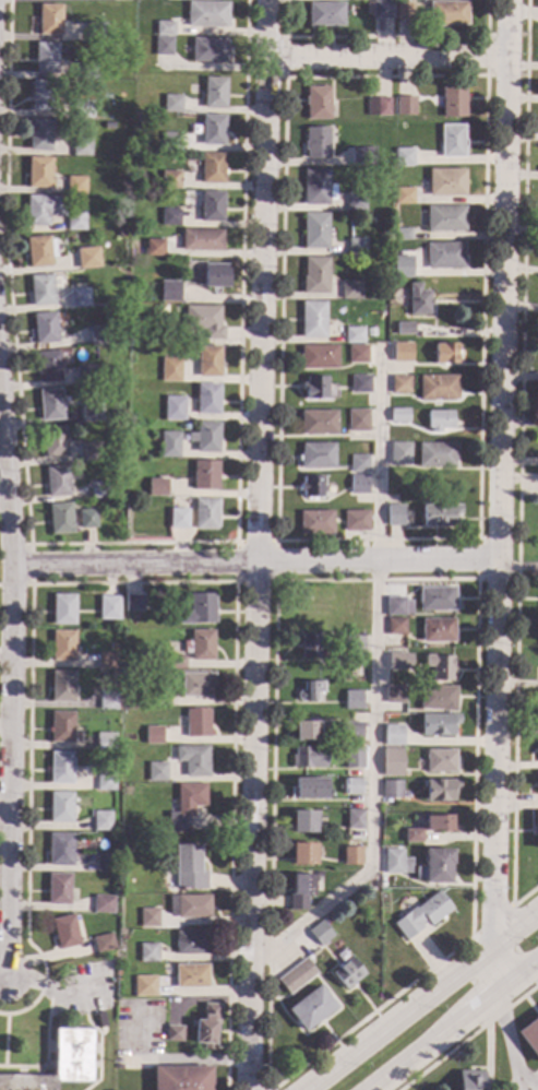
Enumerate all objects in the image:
building: (109, 0)
building: (368, 8)
building: (382, 10)
building: (404, 12)
building: (206, 14)
building: (324, 14)
building: (447, 14)
building: (49, 20)
building: (164, 28)
building: (95, 32)
building: (163, 47)
building: (208, 50)
road: (387, 57)
building: (46, 58)
building: (85, 71)
building: (214, 93)
building: (41, 96)
building: (453, 102)
building: (318, 103)
building: (172, 104)
building: (405, 106)
building: (378, 107)
building: (83, 109)
building: (108, 126)
building: (212, 130)
building: (39, 135)
building: (452, 140)
building: (171, 142)
building: (316, 143)
building: (81, 145)
building: (404, 157)
building: (359, 158)
building: (212, 168)
building: (38, 173)
building: (145, 177)
building: (170, 180)
building: (445, 183)
building: (75, 186)
building: (316, 188)
building: (404, 196)
building: (355, 202)
building: (211, 206)
building: (44, 210)
building: (124, 215)
building: (169, 217)
building: (445, 218)
building: (76, 221)
building: (315, 230)
building: (121, 235)
building: (400, 235)
building: (201, 239)
building: (356, 246)
building: (154, 248)
building: (40, 251)
building: (444, 256)
building: (88, 258)
building: (400, 271)
building: (315, 275)
building: (215, 276)
building: (43, 289)
building: (169, 291)
building: (350, 291)
building: (80, 298)
building: (418, 300)
building: (159, 308)
building: (100, 316)
building: (312, 320)
building: (204, 321)
building: (46, 329)
building: (404, 329)
building: (370, 332)
building: (98, 335)
building: (354, 335)
building: (402, 352)
building: (357, 354)
building: (445, 354)
building: (319, 357)
building: (208, 362)
building: (48, 367)
building: (170, 370)
building: (86, 375)
building: (360, 384)
building: (399, 384)
building: (314, 388)
building: (438, 388)
building: (207, 399)
building: (51, 405)
building: (174, 408)
building: (92, 412)
building: (399, 416)
building: (357, 420)
building: (439, 420)
building: (318, 423)
building: (205, 438)
building: (55, 442)
building: (169, 445)
building: (92, 452)
building: (399, 453)
building: (316, 455)
building: (437, 455)
building: (358, 464)
building: (119, 466)
road: (518, 470)
building: (205, 475)
building: (58, 482)
building: (359, 485)
building: (157, 487)
building: (312, 487)
road: (7, 489)
building: (100, 489)
road: (500, 494)
building: (205, 514)
building: (395, 516)
building: (439, 516)
building: (60, 519)
building: (88, 519)
building: (179, 519)
building: (360, 521)
building: (315, 522)
road: (261, 545)
road: (255, 565)
building: (437, 600)
building: (134, 603)
building: (110, 605)
building: (397, 607)
building: (202, 608)
building: (352, 608)
building: (63, 609)
building: (110, 620)
building: (308, 624)
building: (396, 626)
building: (437, 630)
building: (63, 645)
building: (201, 645)
building: (354, 645)
building: (310, 647)
road: (5, 657)
building: (107, 661)
building: (399, 661)
building: (176, 662)
building: (440, 666)
building: (198, 685)
road: (370, 685)
building: (62, 687)
building: (310, 691)
building: (395, 695)
building: (158, 698)
building: (438, 698)
building: (108, 700)
building: (351, 700)
building: (537, 711)
building: (198, 723)
building: (438, 725)
road: (4, 727)
building: (62, 727)
building: (307, 731)
building: (352, 732)
building: (153, 735)
building: (390, 741)
building: (105, 742)
building: (121, 749)
building: (339, 754)
building: (309, 757)
building: (352, 758)
building: (193, 760)
building: (440, 761)
building: (392, 762)
building: (60, 768)
road: (9, 770)
building: (157, 772)
building: (105, 779)
building: (537, 781)
building: (335, 785)
building: (351, 786)
building: (310, 790)
building: (391, 790)
building: (440, 790)
building: (186, 806)
building: (60, 807)
road: (4, 817)
building: (354, 819)
building: (101, 820)
building: (303, 821)
building: (439, 824)
building: (536, 829)
building: (413, 836)
building: (60, 850)
building: (303, 854)
building: (352, 856)
building: (104, 863)
building: (396, 863)
building: (434, 867)
building: (188, 869)
building: (58, 889)
building: (301, 892)
building: (101, 903)
building: (190, 905)
building: (421, 915)
building: (148, 917)
building: (64, 932)
road: (516, 933)
building: (320, 934)
building: (191, 943)
building: (103, 944)
building: (147, 952)
building: (308, 958)
building: (348, 973)
building: (295, 975)
building: (191, 976)
building: (144, 986)
building: (311, 1008)
building: (99, 1020)
road: (400, 1020)
building: (207, 1027)
road: (453, 1027)
building: (172, 1033)
building: (529, 1036)
road: (505, 1040)
road: (168, 1059)
building: (58, 1063)
building: (181, 1078)
building: (470, 1080)
road: (528, 1082)
road: (518, 1087)

